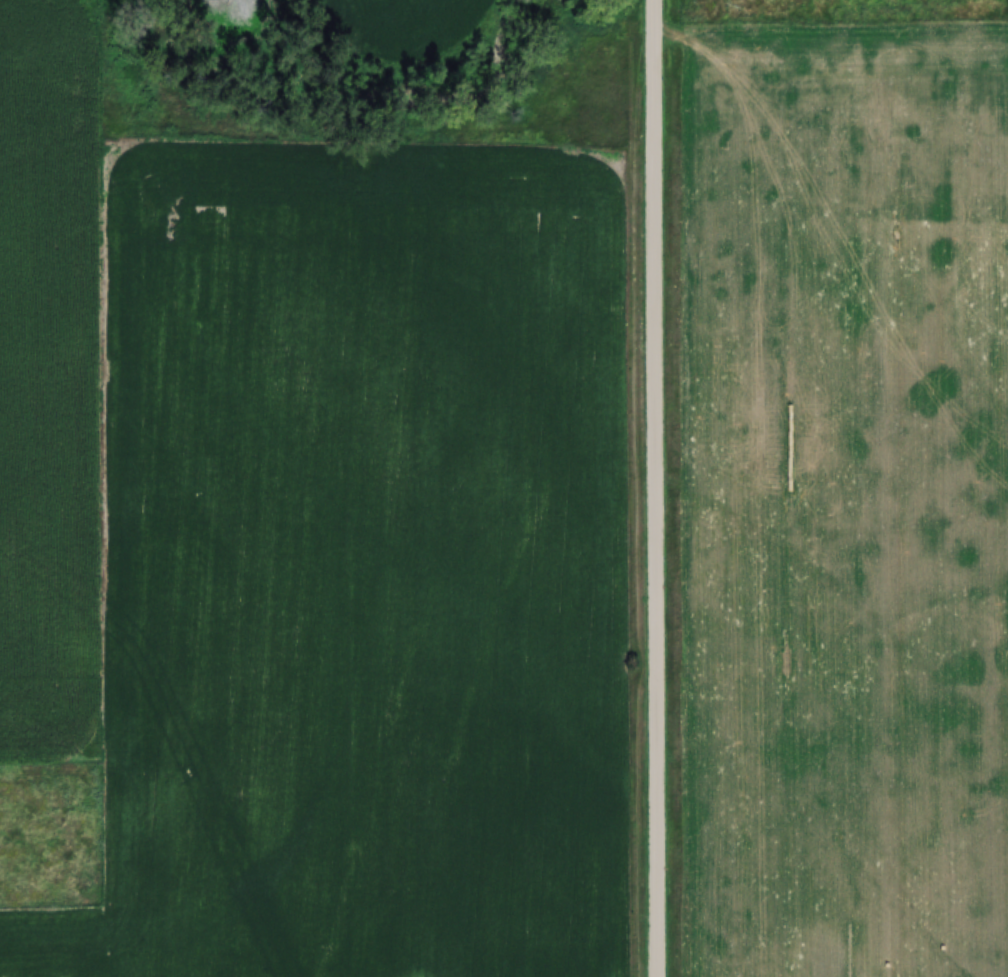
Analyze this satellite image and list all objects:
road: (659, 488)

